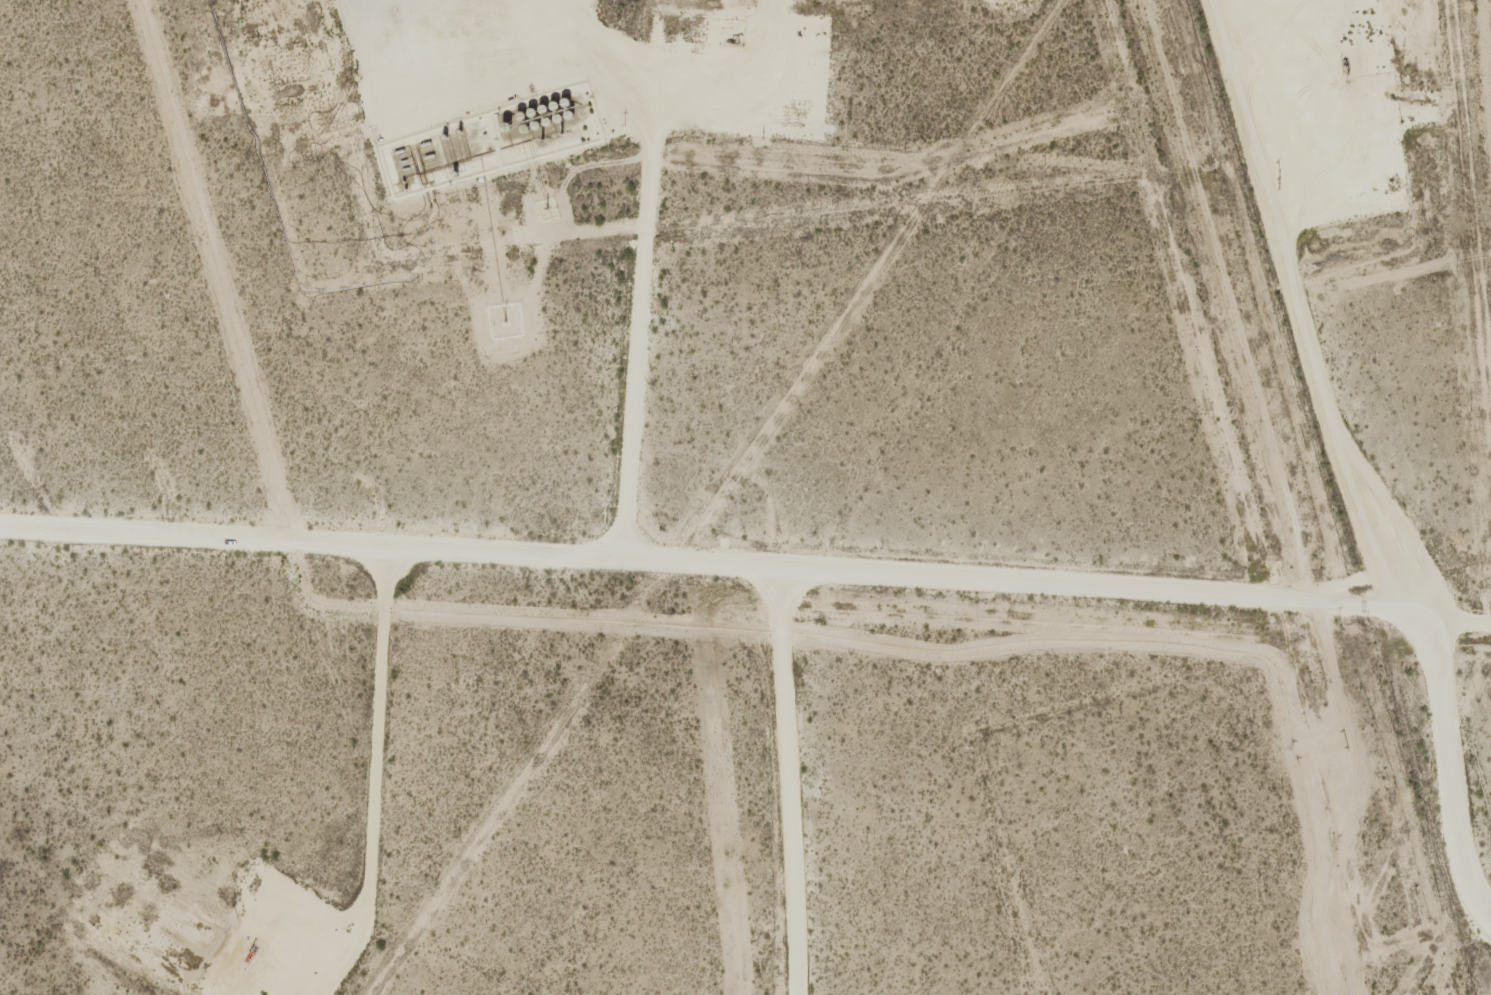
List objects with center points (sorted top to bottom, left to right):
road: (1333, 478)
road: (681, 552)
road: (784, 776)
road: (993, 784)

